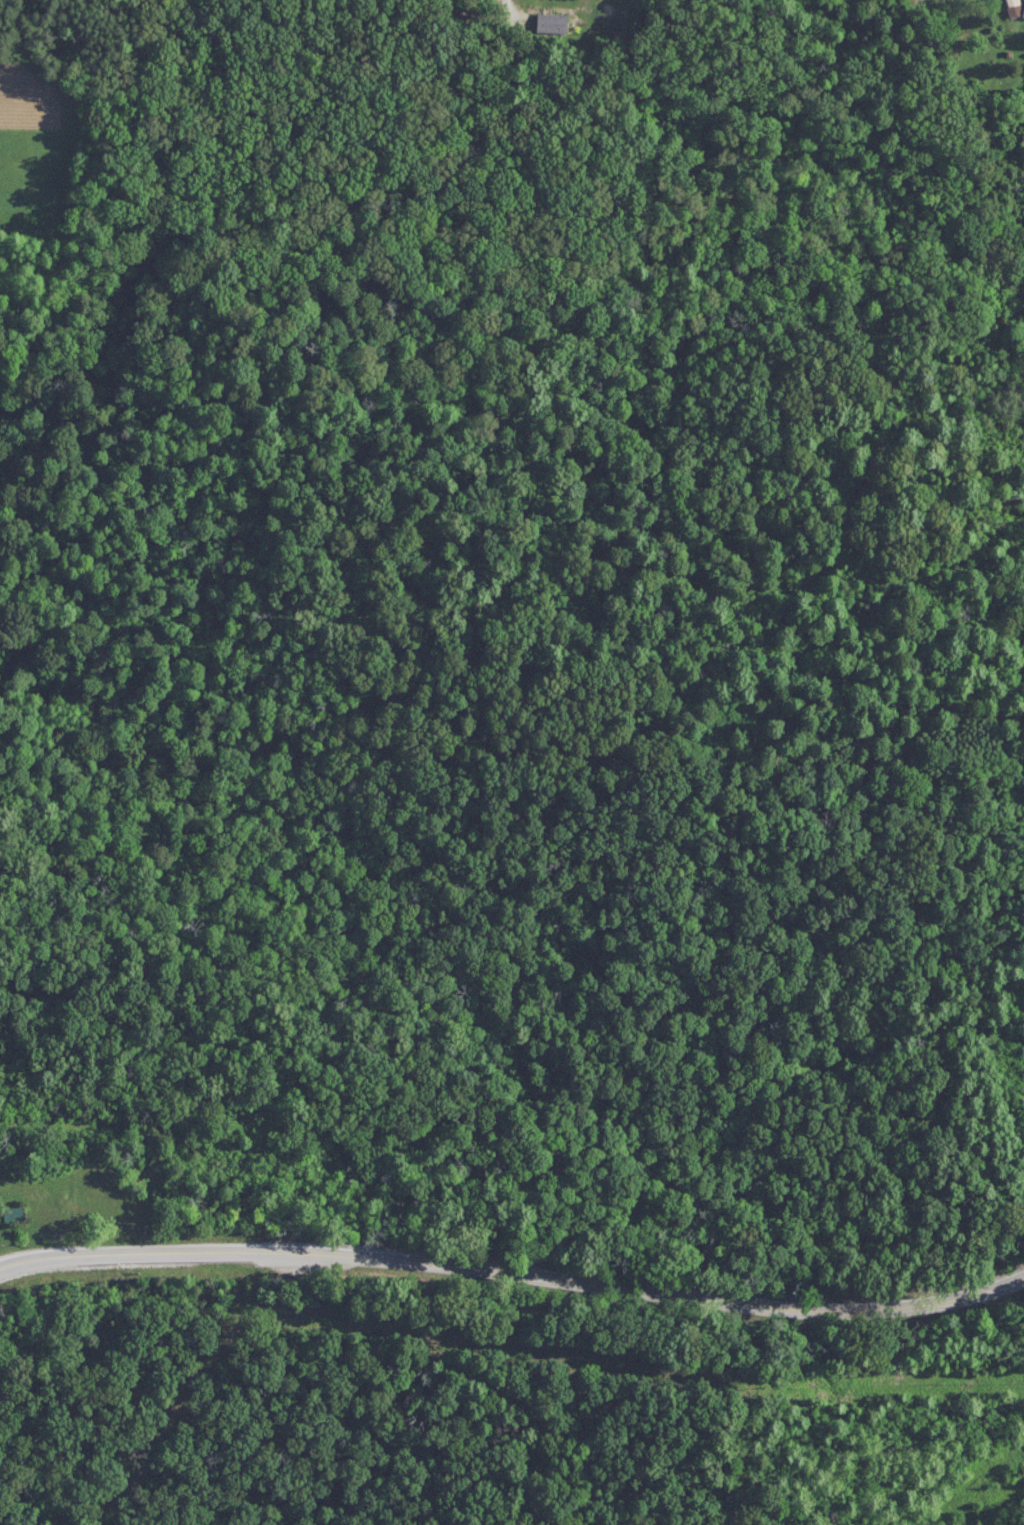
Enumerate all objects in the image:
road: (514, 8)
building: (1015, 9)
building: (552, 24)
road: (40, 1122)
road: (515, 1273)

